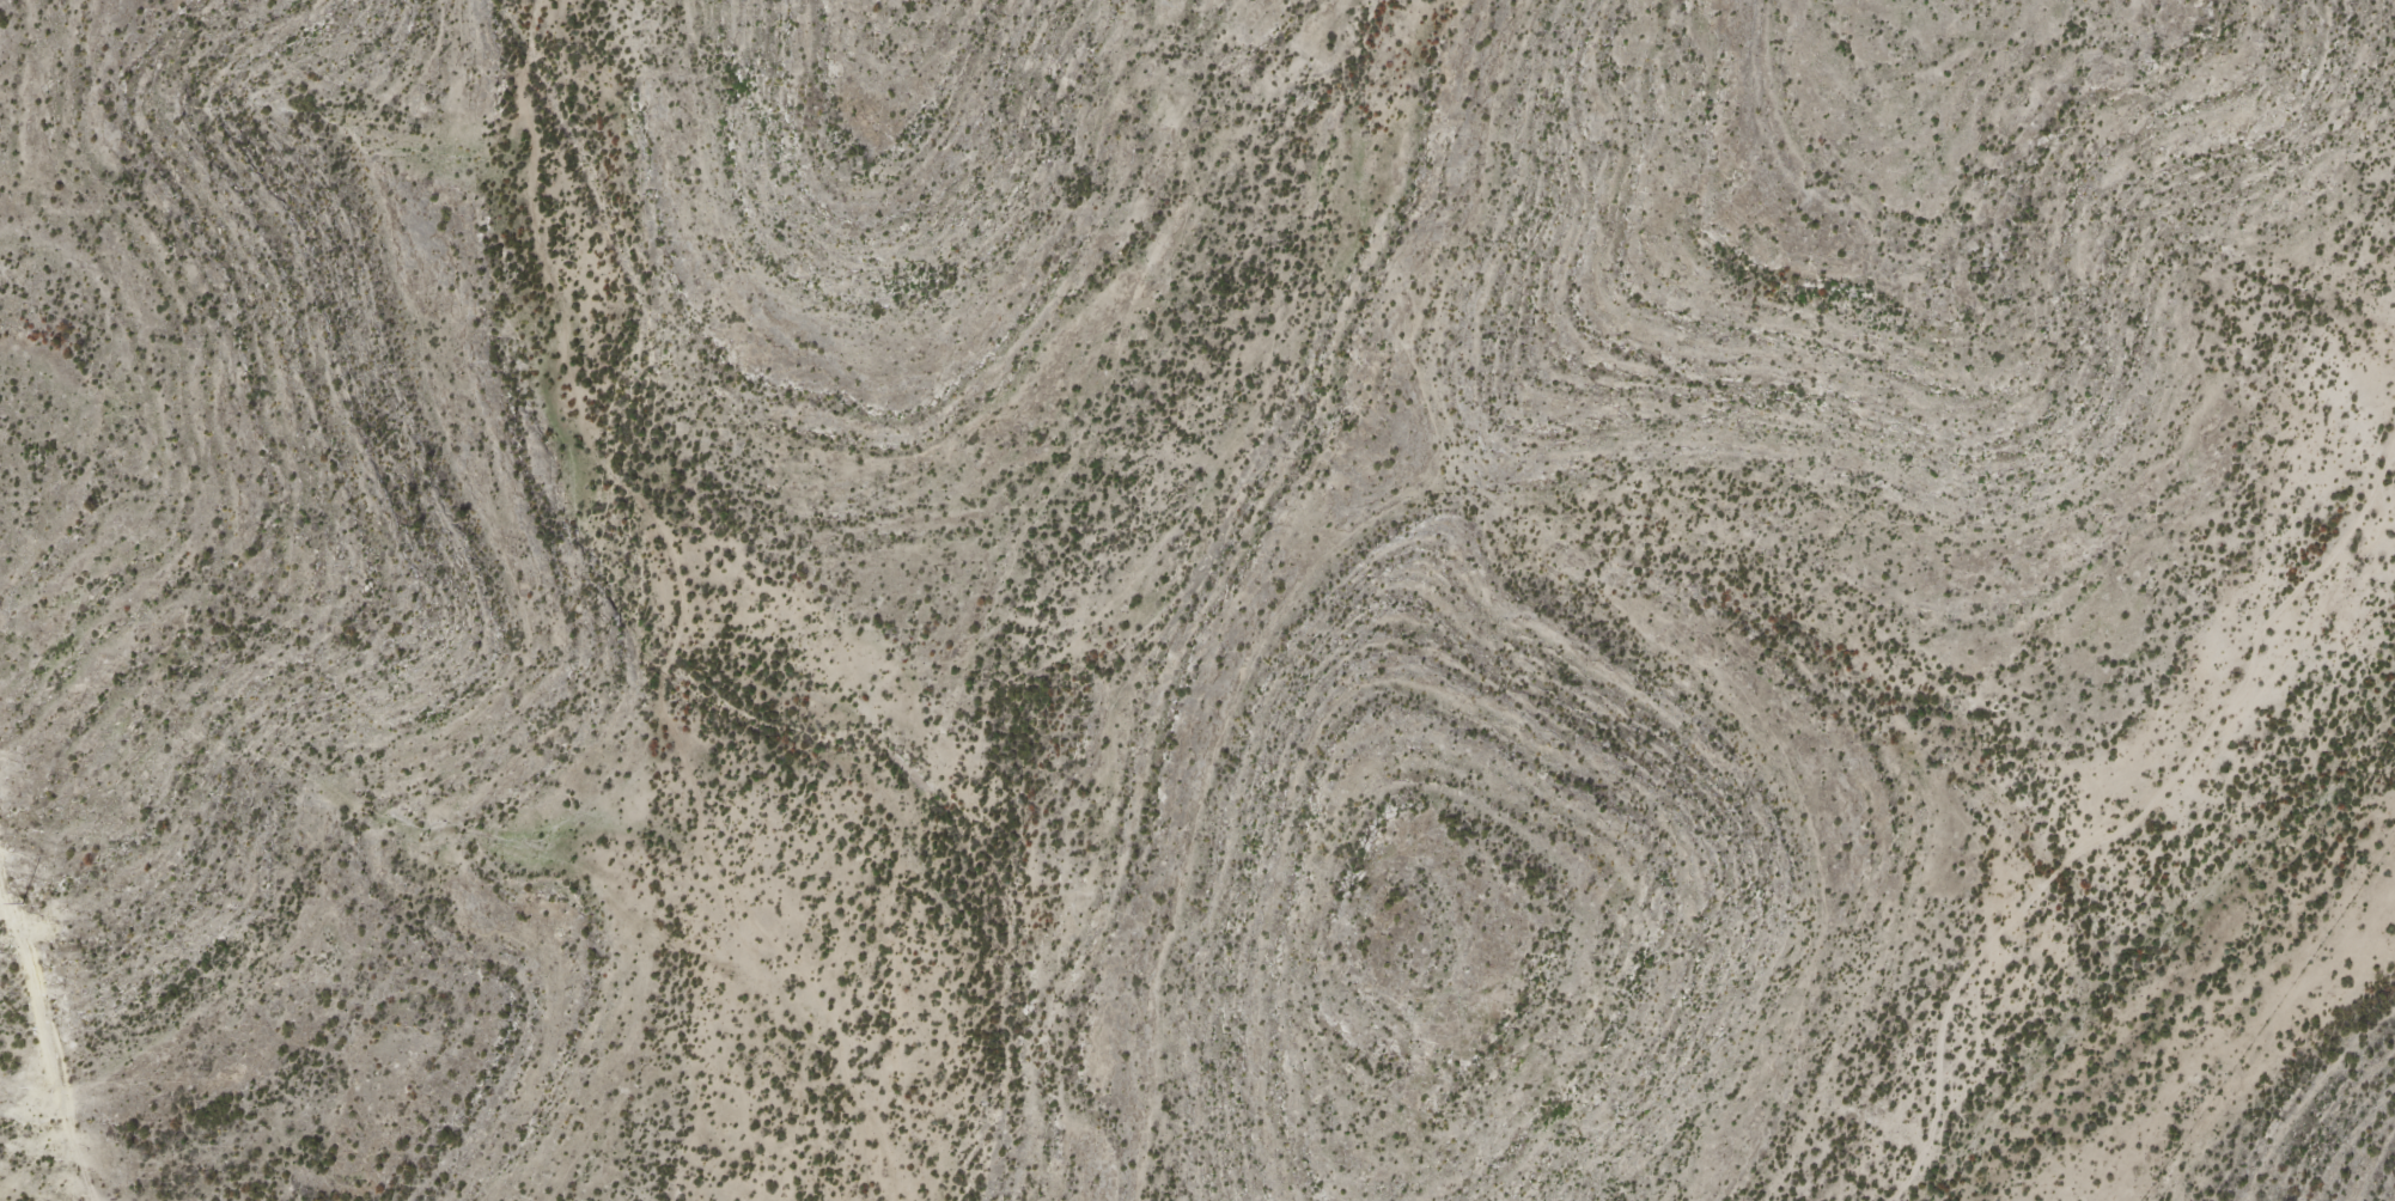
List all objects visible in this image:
road: (2125, 821)
power tower: (23, 903)

